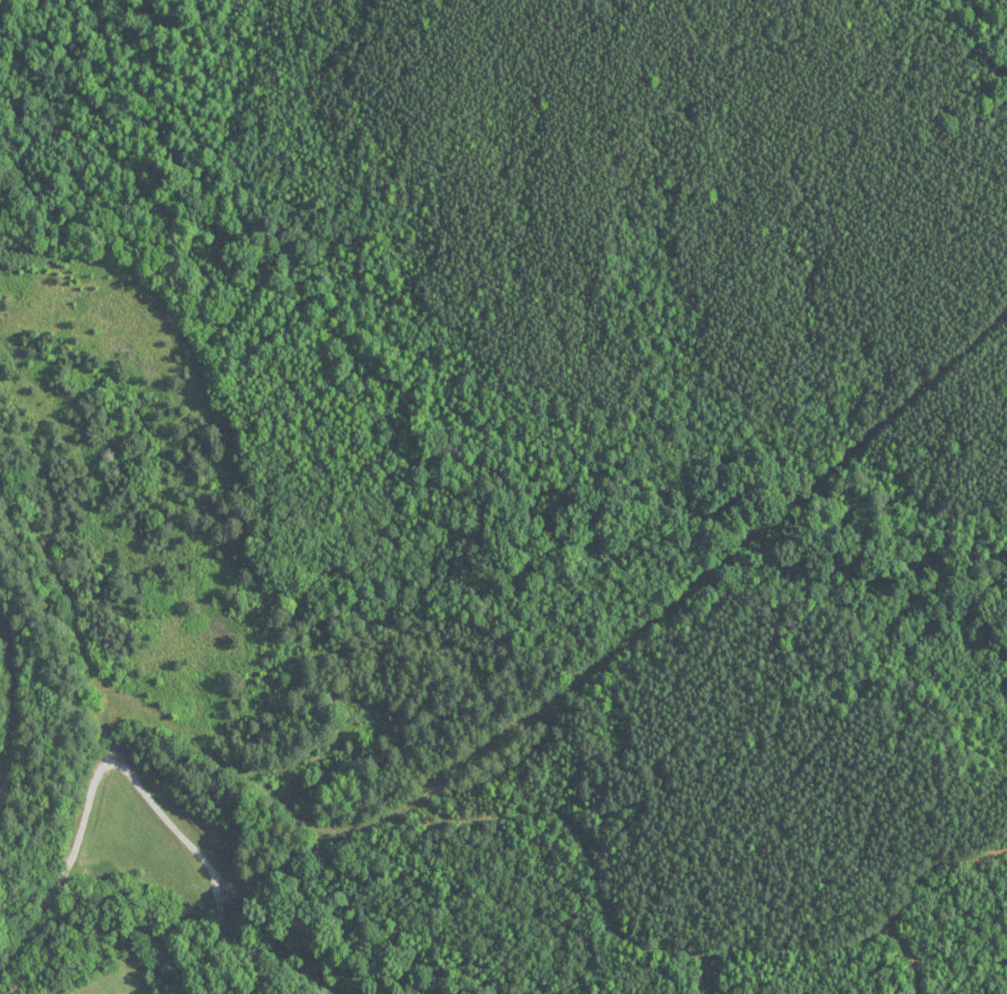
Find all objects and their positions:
road: (150, 784)

